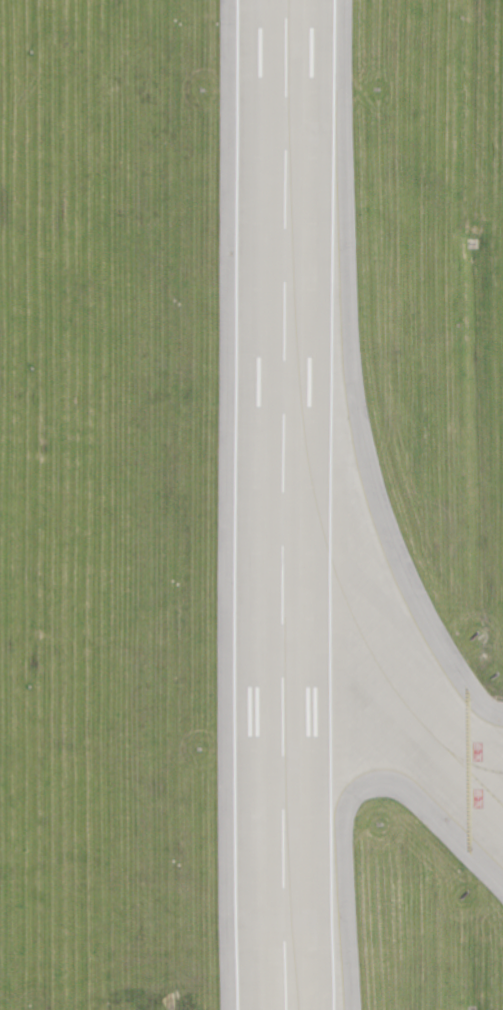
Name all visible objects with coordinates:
airport: (251, 505)
airport runway: (293, 505)
airport taxiway: (402, 692)

